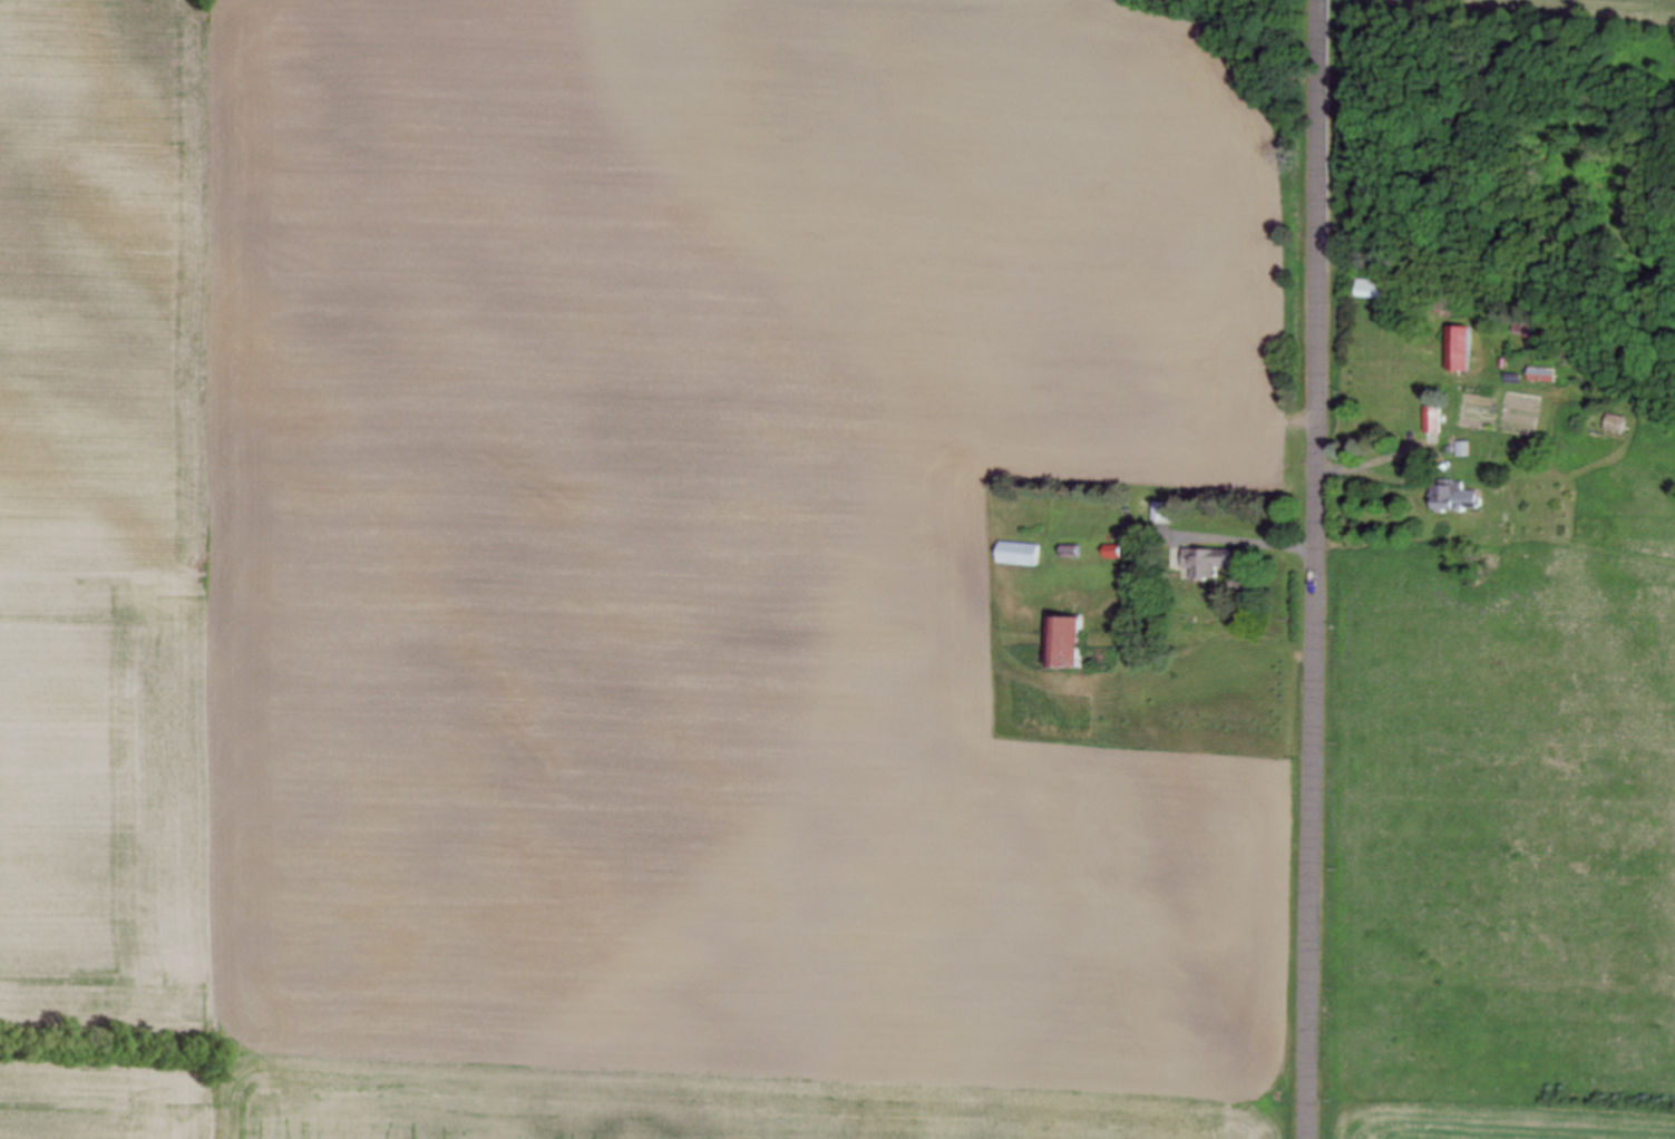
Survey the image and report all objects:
building: (1376, 290)
building: (1463, 350)
building: (1547, 376)
building: (1434, 421)
building: (1619, 426)
building: (1459, 499)
building: (1162, 513)
building: (1114, 554)
building: (1022, 555)
building: (1210, 564)
road: (1316, 568)
building: (1071, 644)

